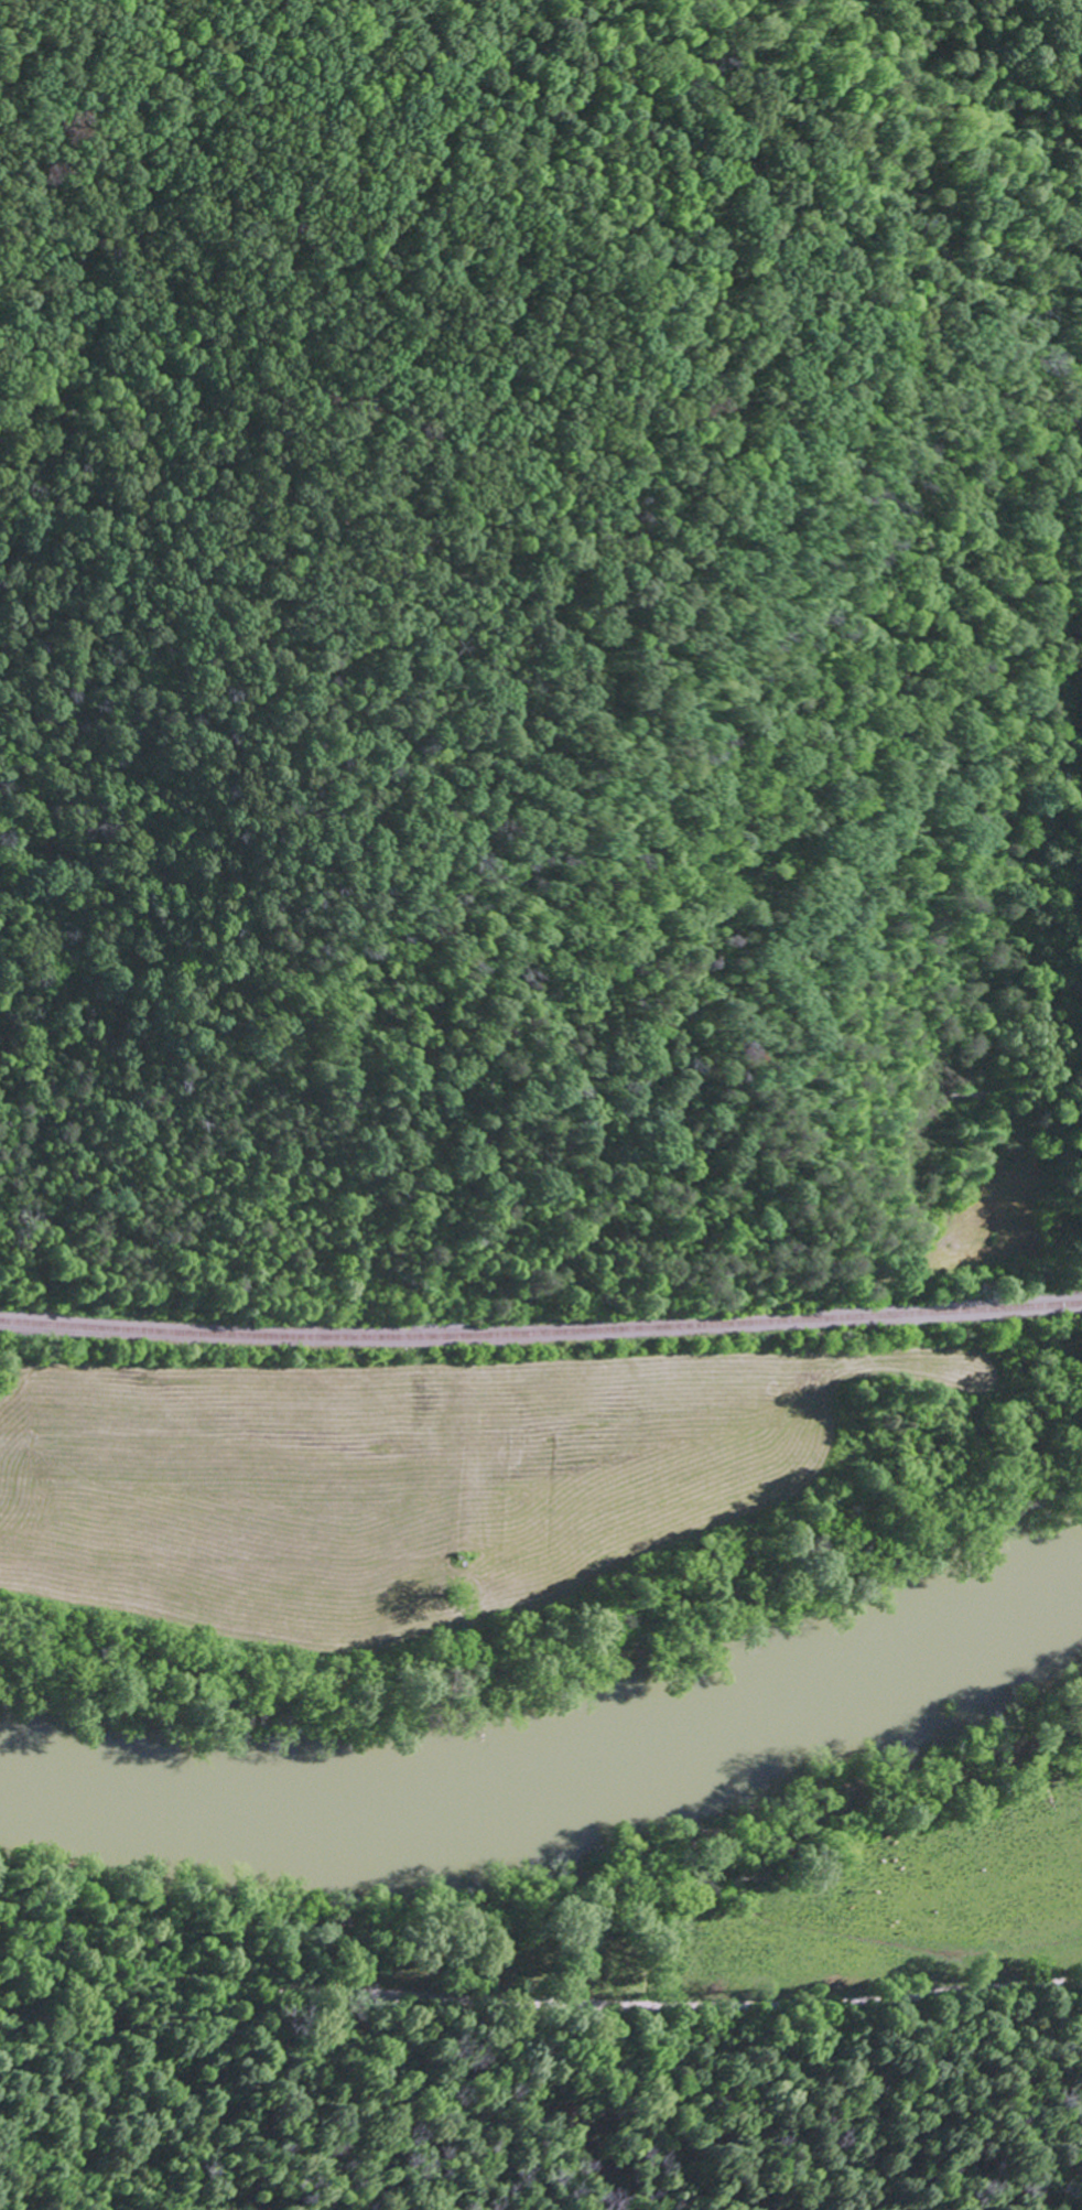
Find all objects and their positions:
railway: (542, 1330)
river: (552, 1768)
road: (538, 2018)

